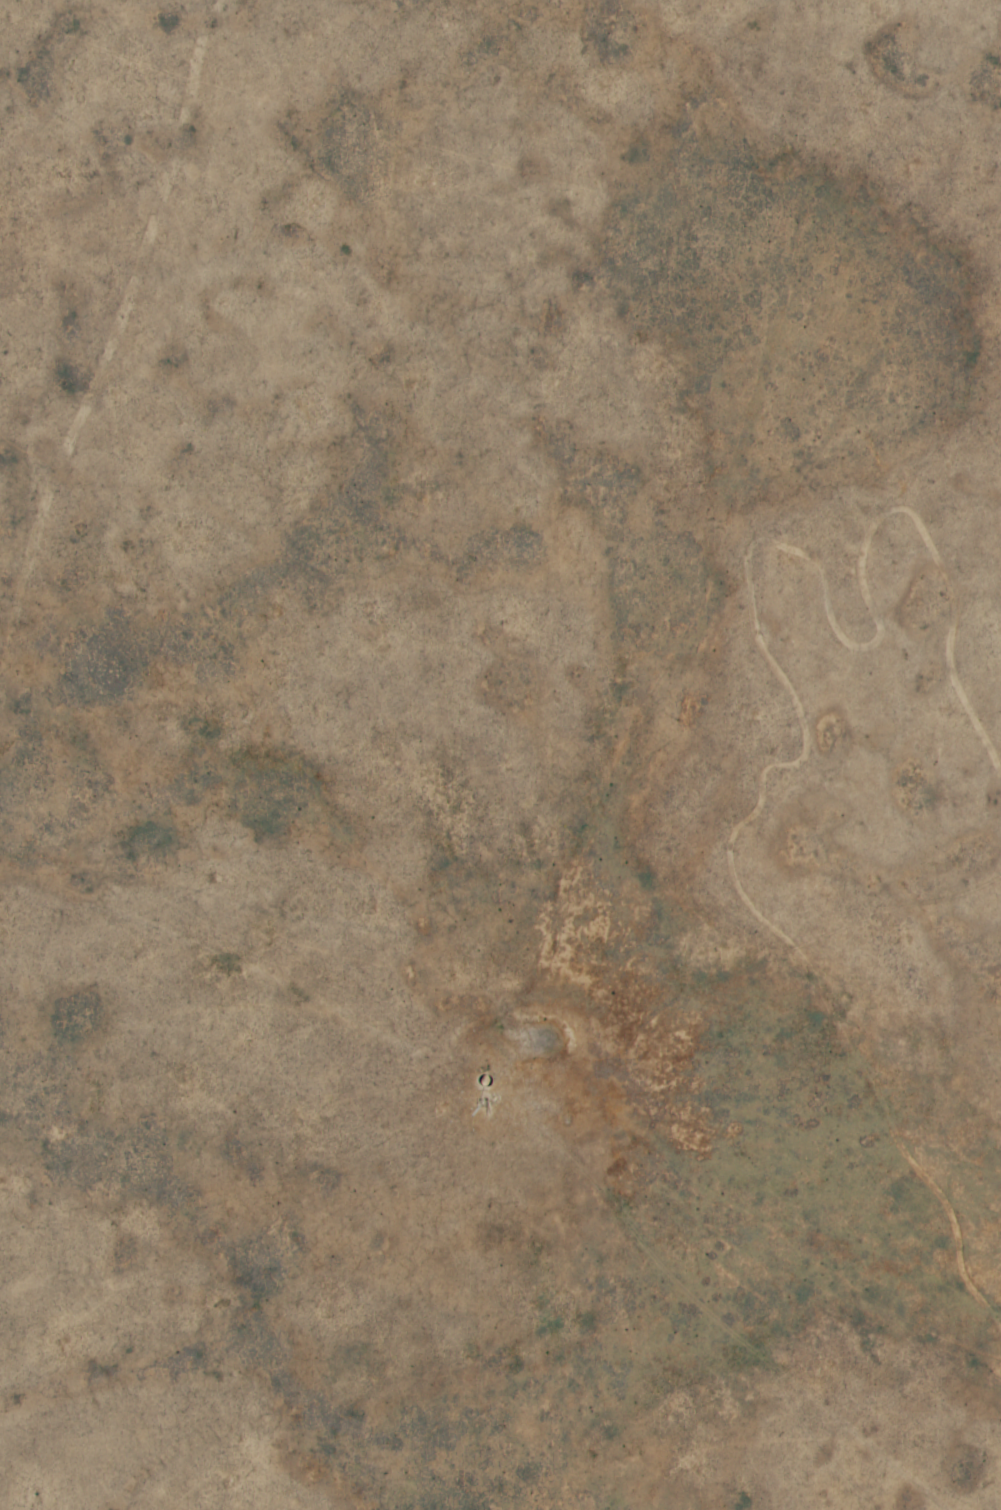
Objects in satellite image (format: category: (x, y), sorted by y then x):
road: (755, 1298)

